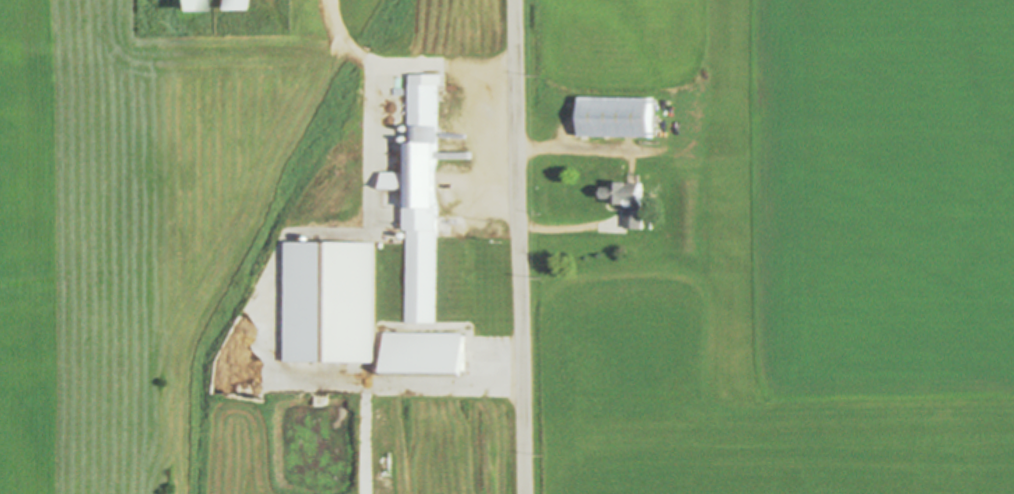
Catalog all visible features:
building: (193, 5)
building: (247, 5)
road: (408, 61)
building: (620, 117)
building: (424, 197)
building: (632, 202)
road: (572, 226)
road: (519, 246)
building: (335, 302)
building: (428, 353)
road: (421, 385)

